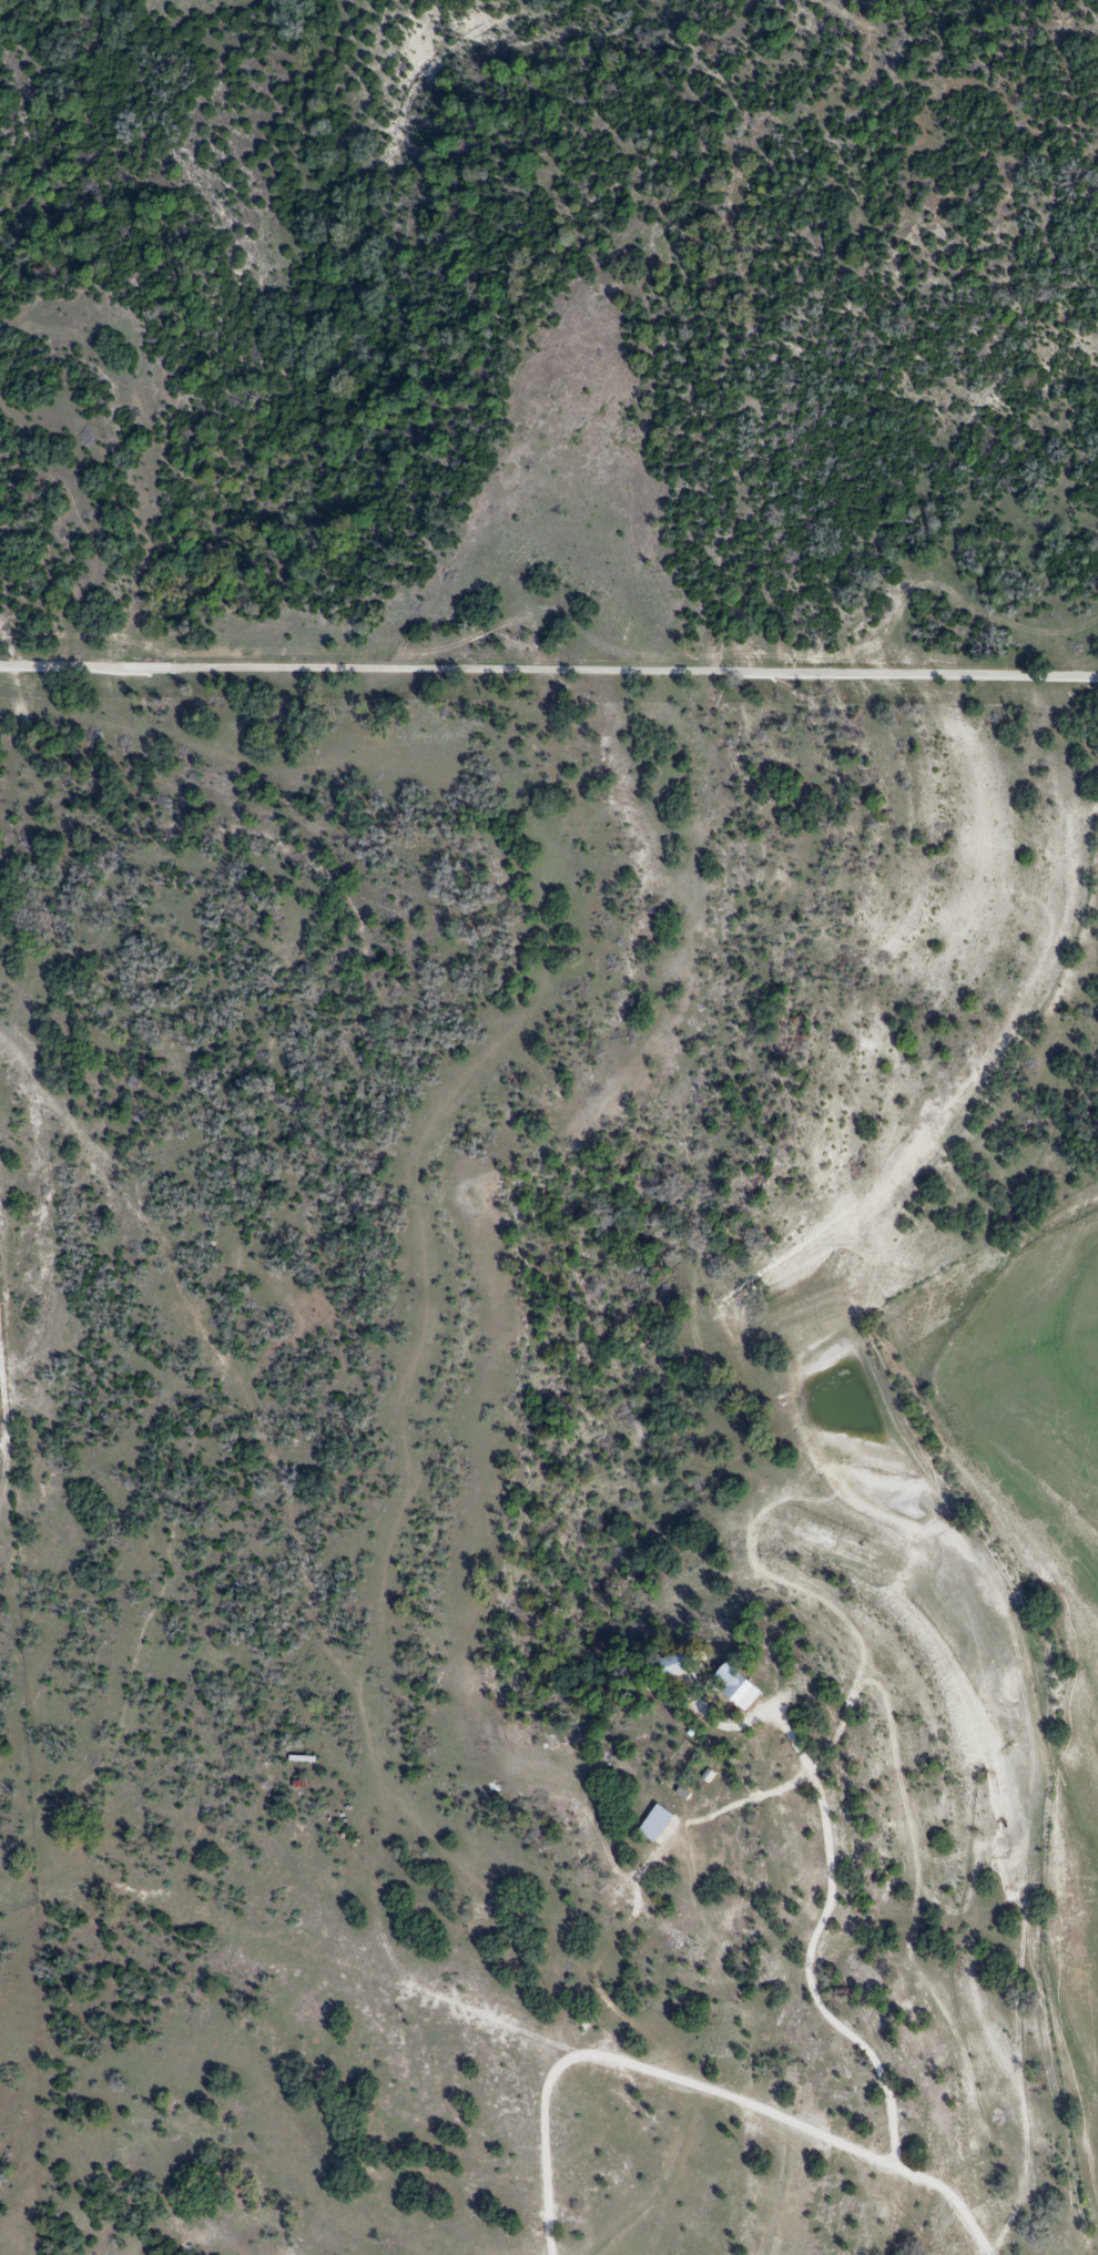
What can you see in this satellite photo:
road: (549, 673)
building: (673, 1667)
building: (735, 1690)
road: (812, 1947)
road: (954, 2204)

